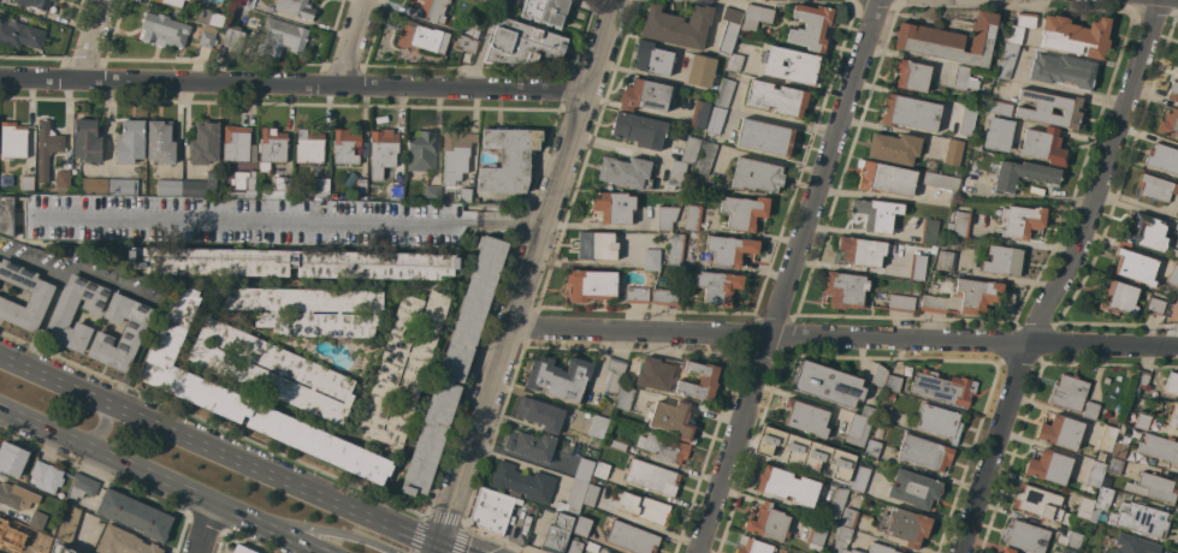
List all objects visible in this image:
building: (53, 0)
building: (478, 0)
building: (486, 1)
building: (172, 2)
building: (244, 2)
building: (36, 4)
building: (503, 4)
building: (295, 7)
building: (431, 11)
building: (545, 11)
building: (756, 16)
building: (208, 17)
building: (676, 26)
building: (811, 26)
building: (1022, 26)
building: (729, 28)
building: (162, 30)
building: (469, 31)
building: (19, 34)
building: (1076, 36)
building: (207, 37)
building: (232, 37)
building: (280, 37)
building: (421, 38)
building: (949, 40)
road: (93, 41)
road: (353, 43)
building: (466, 43)
building: (523, 43)
building: (652, 58)
building: (1007, 60)
building: (735, 63)
building: (792, 65)
building: (700, 70)
building: (1177, 70)
building: (1062, 71)
building: (911, 75)
building: (964, 79)
road: (295, 85)
building: (1173, 91)
building: (724, 93)
building: (644, 95)
building: (776, 97)
building: (998, 107)
building: (1048, 108)
building: (910, 112)
building: (699, 114)
building: (716, 120)
building: (966, 120)
building: (1168, 124)
building: (639, 130)
building: (998, 135)
building: (765, 137)
building: (12, 141)
building: (87, 141)
building: (130, 141)
building: (160, 142)
building: (205, 143)
building: (237, 144)
building: (975, 144)
building: (1043, 145)
building: (271, 147)
building: (309, 147)
building: (345, 147)
building: (383, 147)
building: (894, 148)
building: (47, 149)
building: (689, 149)
building: (421, 151)
building: (953, 151)
building: (456, 154)
building: (705, 159)
building: (1162, 159)
building: (508, 160)
building: (624, 172)
building: (676, 174)
building: (1023, 174)
building: (756, 176)
building: (884, 178)
building: (6, 180)
building: (63, 180)
building: (940, 180)
building: (967, 180)
building: (26, 183)
building: (244, 183)
building: (94, 185)
building: (361, 185)
building: (123, 186)
building: (201, 186)
building: (168, 188)
building: (321, 188)
building: (1155, 188)
building: (278, 189)
building: (395, 192)
building: (432, 192)
building: (233, 194)
building: (304, 194)
building: (464, 195)
building: (612, 207)
building: (744, 212)
building: (1177, 213)
building: (876, 214)
building: (693, 216)
road: (248, 218)
building: (665, 218)
building: (237, 220)
parking garage: (237, 220)
road: (504, 221)
building: (1019, 221)
building: (960, 224)
building: (929, 232)
building: (1146, 232)
building: (597, 245)
building: (675, 249)
building: (730, 249)
building: (860, 251)
building: (651, 260)
building: (945, 260)
building: (1001, 261)
building: (294, 263)
building: (1133, 264)
building: (917, 267)
road: (79, 270)
road: (789, 275)
building: (1173, 275)
road: (531, 276)
road: (1062, 276)
building: (591, 284)
building: (705, 290)
building: (845, 290)
building: (1177, 293)
building: (40, 295)
building: (637, 295)
building: (1118, 297)
building: (966, 298)
building: (899, 303)
building: (1149, 304)
building: (307, 310)
building: (63, 311)
road: (41, 322)
building: (131, 334)
road: (846, 338)
road: (136, 357)
building: (455, 364)
building: (402, 368)
building: (272, 370)
building: (614, 373)
building: (655, 373)
building: (1130, 373)
building: (878, 376)
building: (558, 377)
building: (699, 380)
building: (1139, 382)
building: (827, 383)
building: (893, 383)
building: (1172, 385)
building: (942, 387)
building: (1069, 392)
building: (889, 396)
building: (624, 398)
building: (245, 399)
building: (1090, 409)
building: (866, 411)
building: (540, 414)
building: (806, 417)
building: (1173, 417)
building: (673, 420)
building: (1142, 421)
building: (940, 422)
building: (598, 427)
building: (857, 429)
road: (101, 430)
building: (875, 432)
building: (1061, 432)
building: (1135, 435)
building: (1107, 438)
building: (529, 445)
building: (618, 445)
building: (665, 448)
building: (872, 448)
building: (1159, 448)
building: (1119, 451)
building: (805, 452)
building: (924, 452)
road: (227, 456)
building: (12, 459)
building: (1114, 465)
building: (1049, 466)
building: (584, 469)
building: (600, 470)
building: (1095, 474)
building: (46, 476)
building: (652, 476)
building: (860, 478)
road: (161, 481)
building: (522, 482)
building: (82, 486)
building: (787, 486)
building: (1153, 487)
building: (913, 489)
building: (591, 495)
building: (16, 496)
building: (573, 496)
building: (1101, 503)
building: (836, 504)
building: (1040, 504)
building: (1085, 507)
building: (645, 509)
building: (492, 510)
building: (134, 515)
building: (850, 515)
building: (1139, 518)
building: (37, 519)
building: (69, 523)
building: (768, 523)
building: (581, 525)
building: (905, 525)
road: (207, 529)
building: (7, 531)
road: (320, 531)
building: (557, 533)
building: (1026, 536)
building: (632, 537)
building: (816, 537)
building: (1071, 540)
building: (842, 541)
building: (123, 542)
building: (1133, 545)
building: (574, 546)
building: (753, 546)
traffic signals: (440, 547)
building: (880, 548)
building: (67, 549)
building: (242, 549)
road: (438, 549)
building: (1007, 551)
building: (35, 552)
building: (606, 552)
building: (608, 552)

